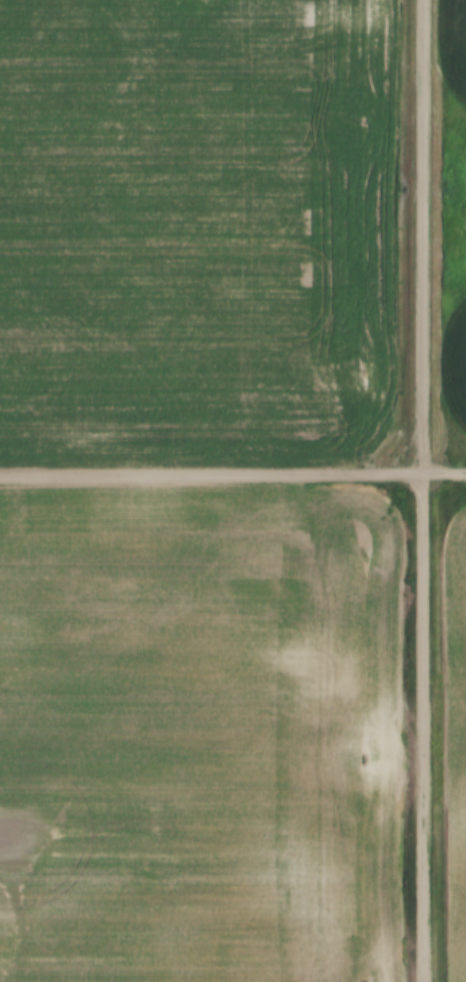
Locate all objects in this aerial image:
road: (232, 473)
road: (419, 490)

